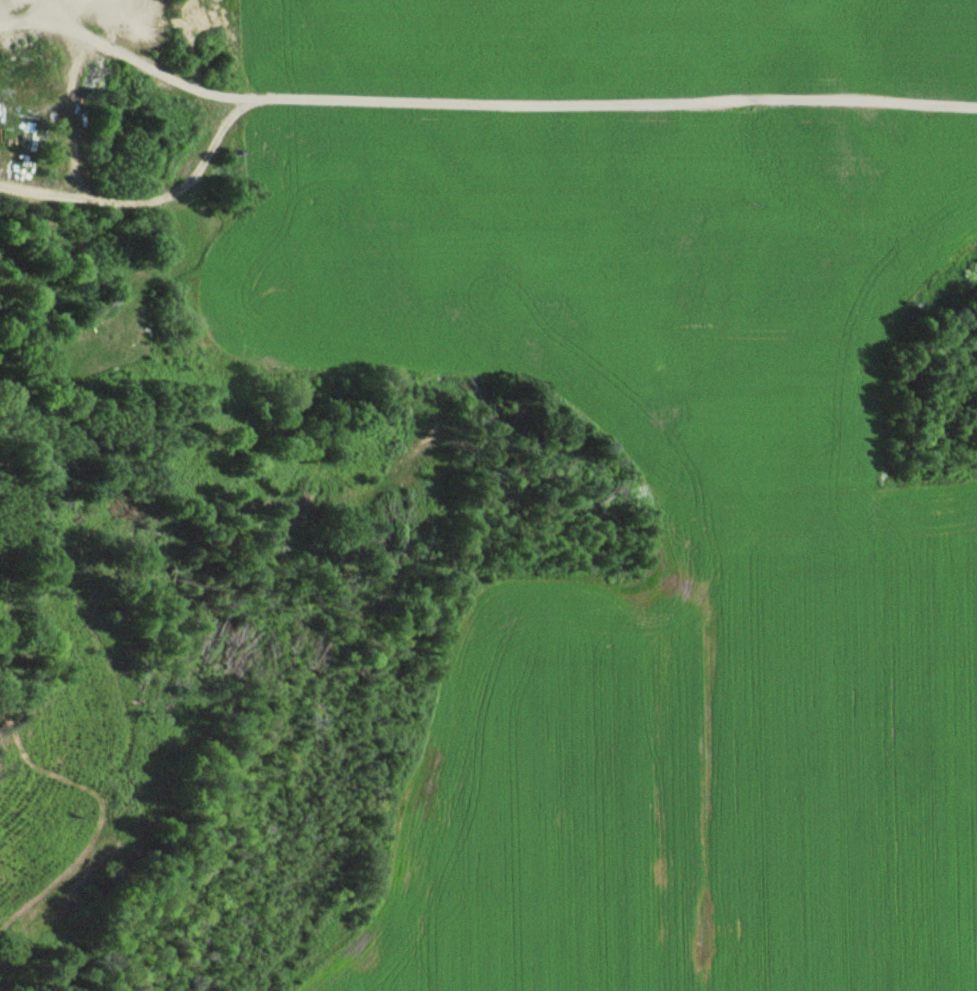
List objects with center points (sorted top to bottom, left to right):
quarry: (113, 104)

